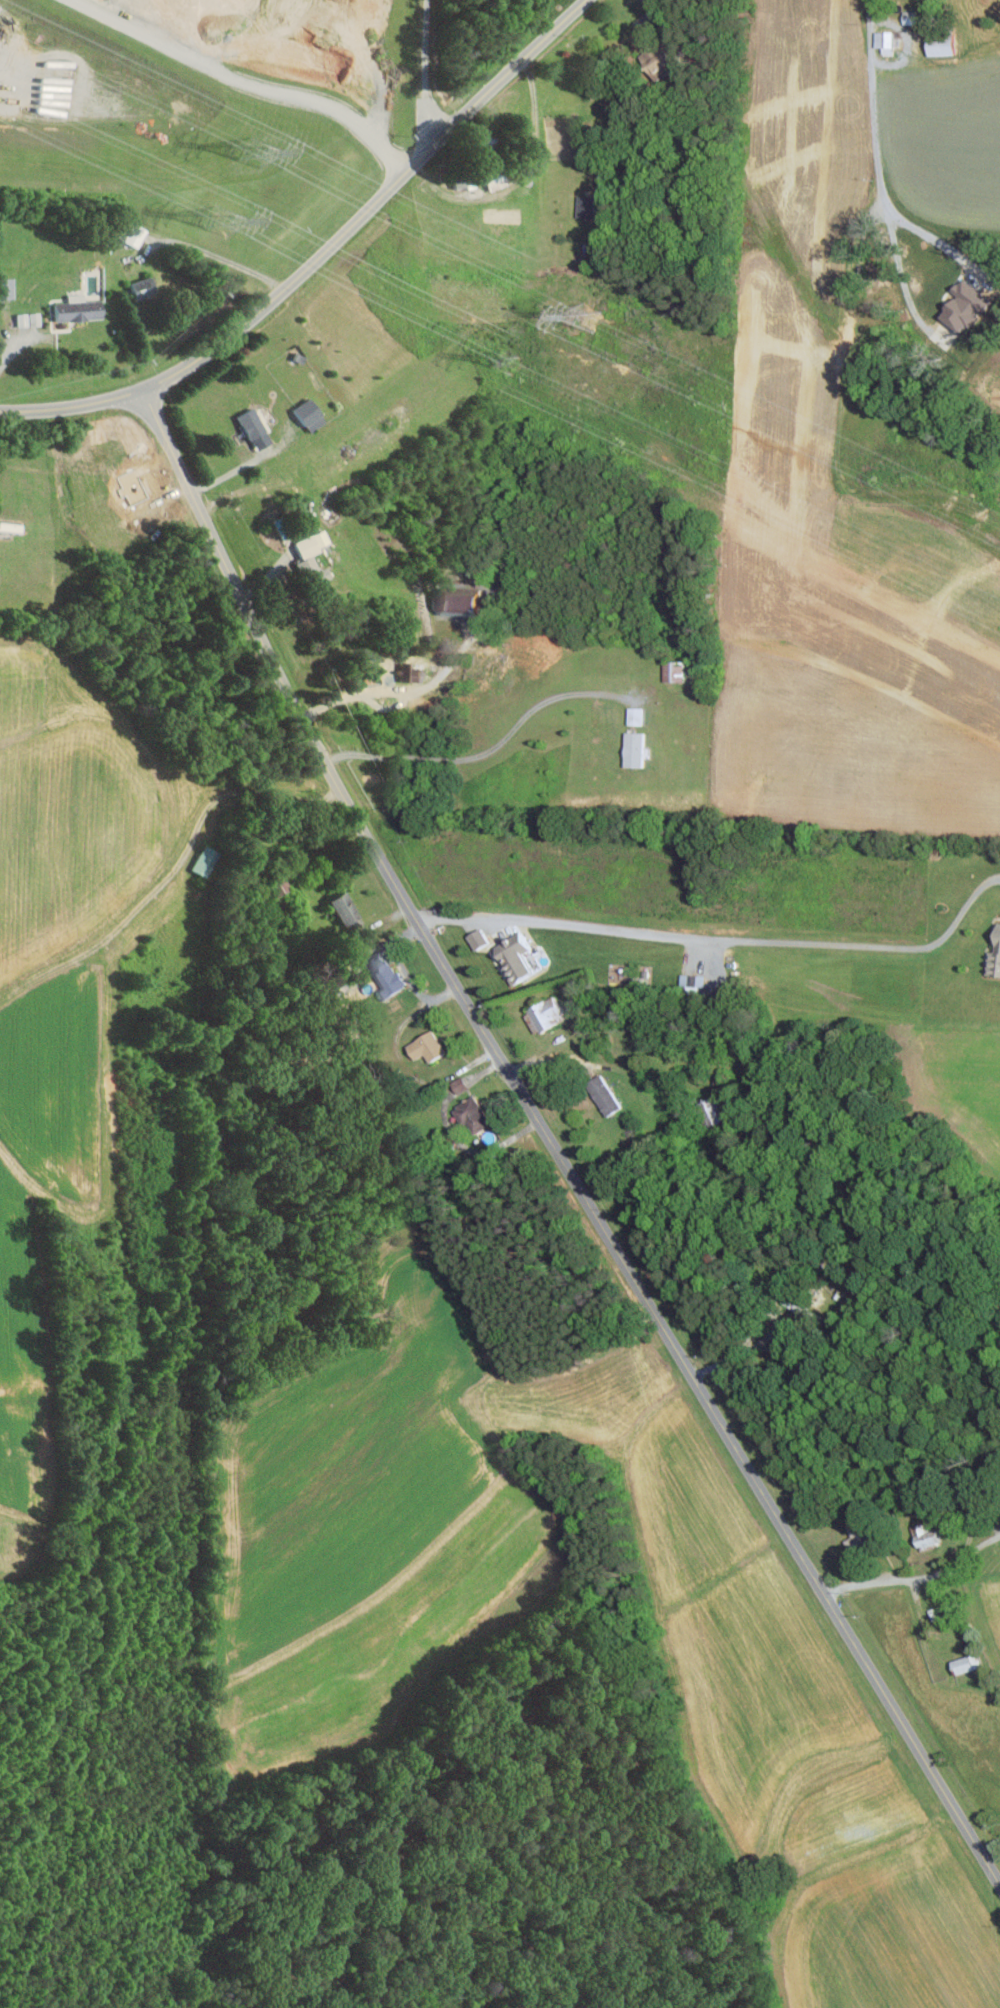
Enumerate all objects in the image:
building: (914, 17)
building: (887, 40)
building: (947, 43)
road: (430, 71)
road: (245, 80)
power tower: (252, 148)
road: (876, 156)
road: (518, 177)
building: (498, 178)
building: (464, 181)
building: (592, 205)
power tower: (221, 220)
building: (134, 234)
road: (320, 254)
road: (218, 256)
road: (901, 277)
building: (8, 287)
building: (146, 288)
building: (968, 306)
building: (80, 308)
power tower: (591, 316)
building: (30, 318)
road: (12, 350)
power tower: (509, 360)
building: (311, 414)
building: (257, 428)
road: (244, 464)
road: (199, 505)
building: (12, 526)
building: (463, 604)
building: (676, 671)
building: (414, 673)
road: (401, 694)
building: (639, 716)
building: (637, 749)
road: (488, 751)
building: (346, 909)
road: (722, 932)
building: (482, 939)
building: (521, 958)
building: (995, 962)
building: (392, 981)
building: (549, 1016)
building: (431, 1047)
road: (557, 1060)
building: (462, 1085)
building: (609, 1100)
building: (714, 1113)
building: (476, 1116)
road: (620, 1258)
road: (770, 1327)
road: (975, 1519)
building: (861, 1538)
road: (978, 1545)
road: (893, 1578)
building: (969, 1665)

